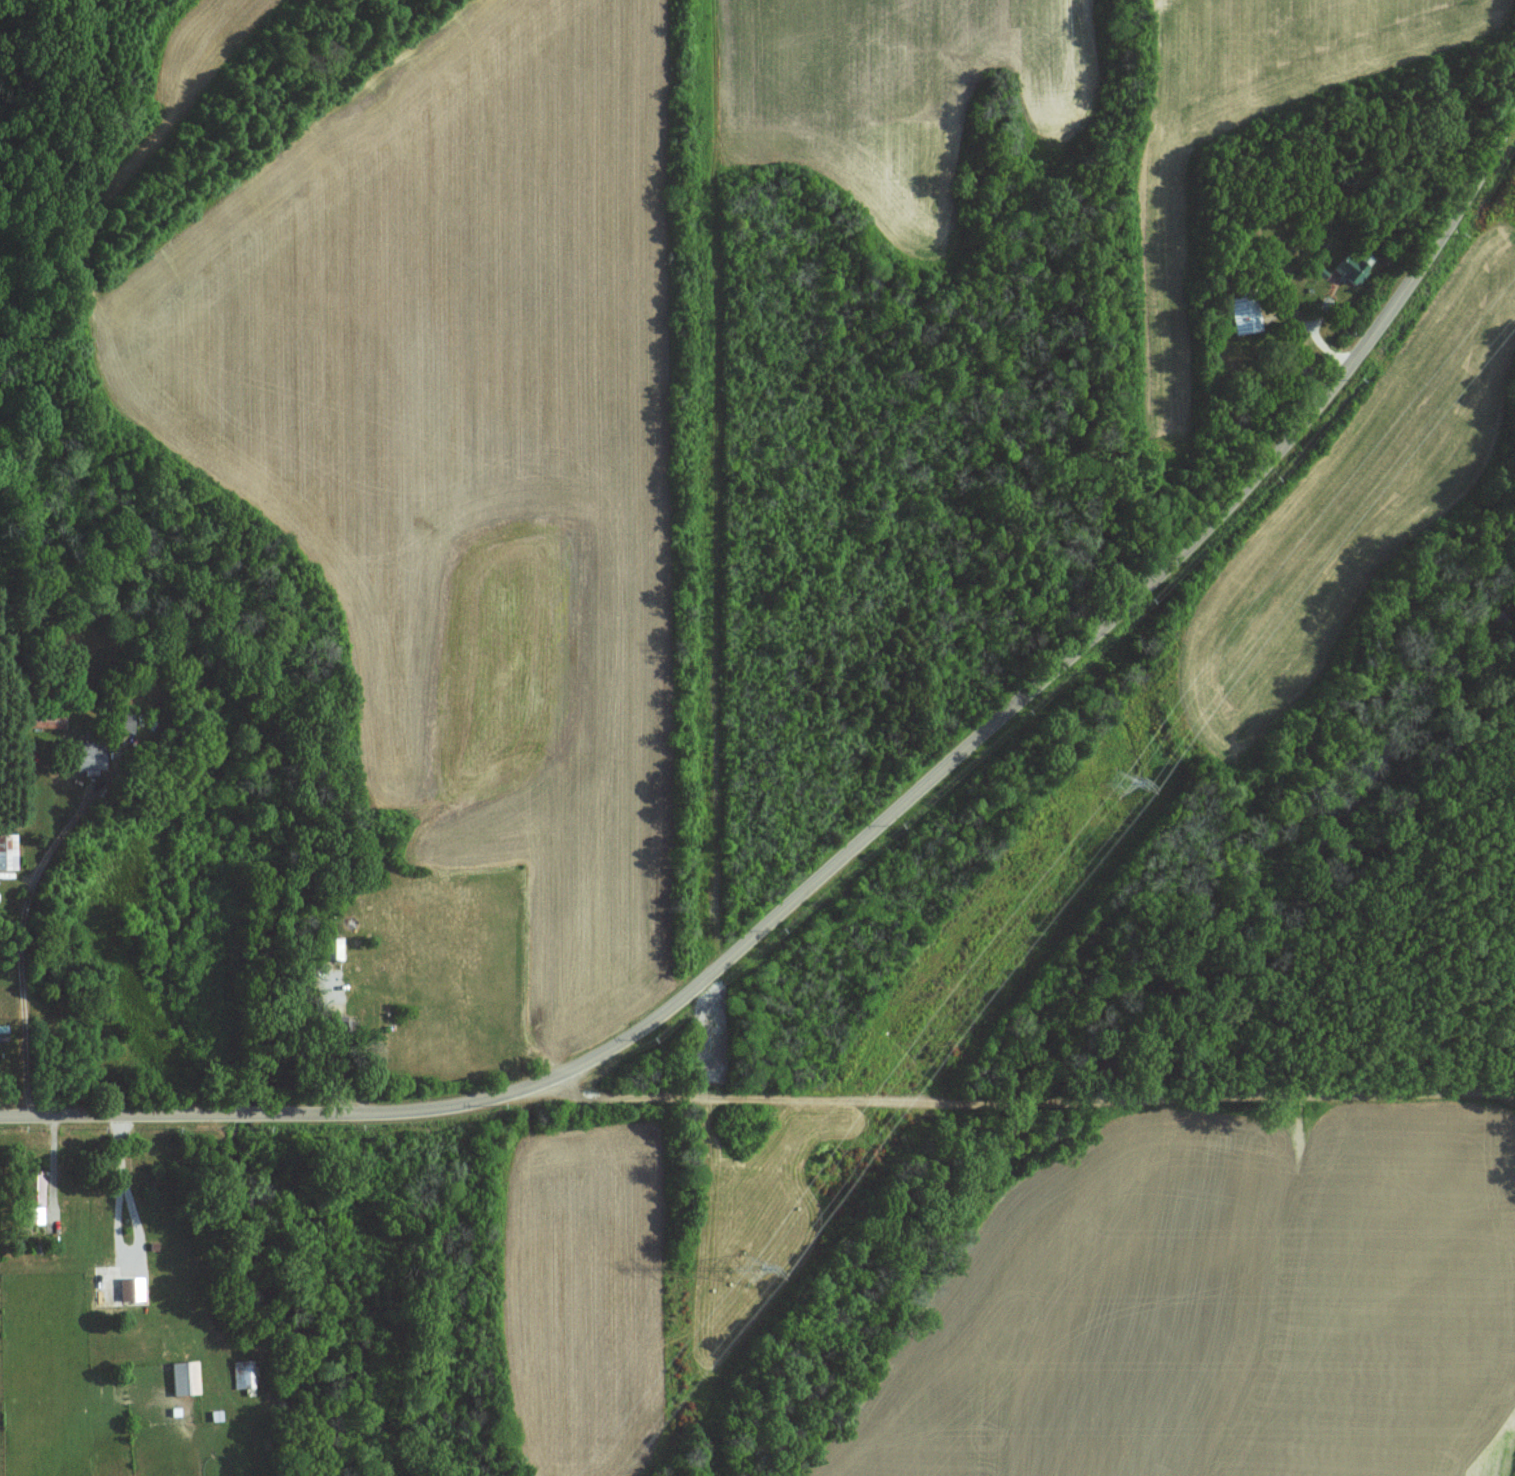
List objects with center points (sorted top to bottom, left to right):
power tower: (1119, 785)
road: (874, 829)
road: (22, 927)
road: (136, 1222)
power tower: (747, 1271)

